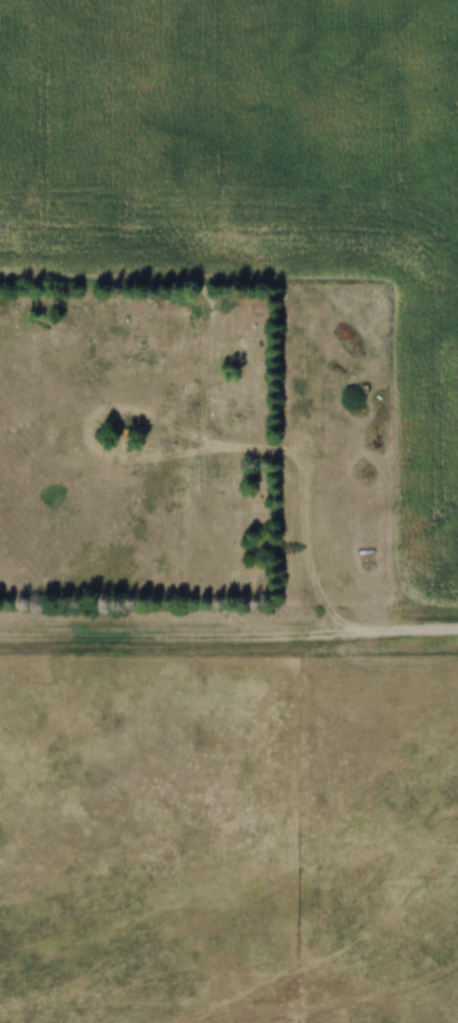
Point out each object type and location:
road: (307, 512)
road: (404, 628)
road: (176, 636)

